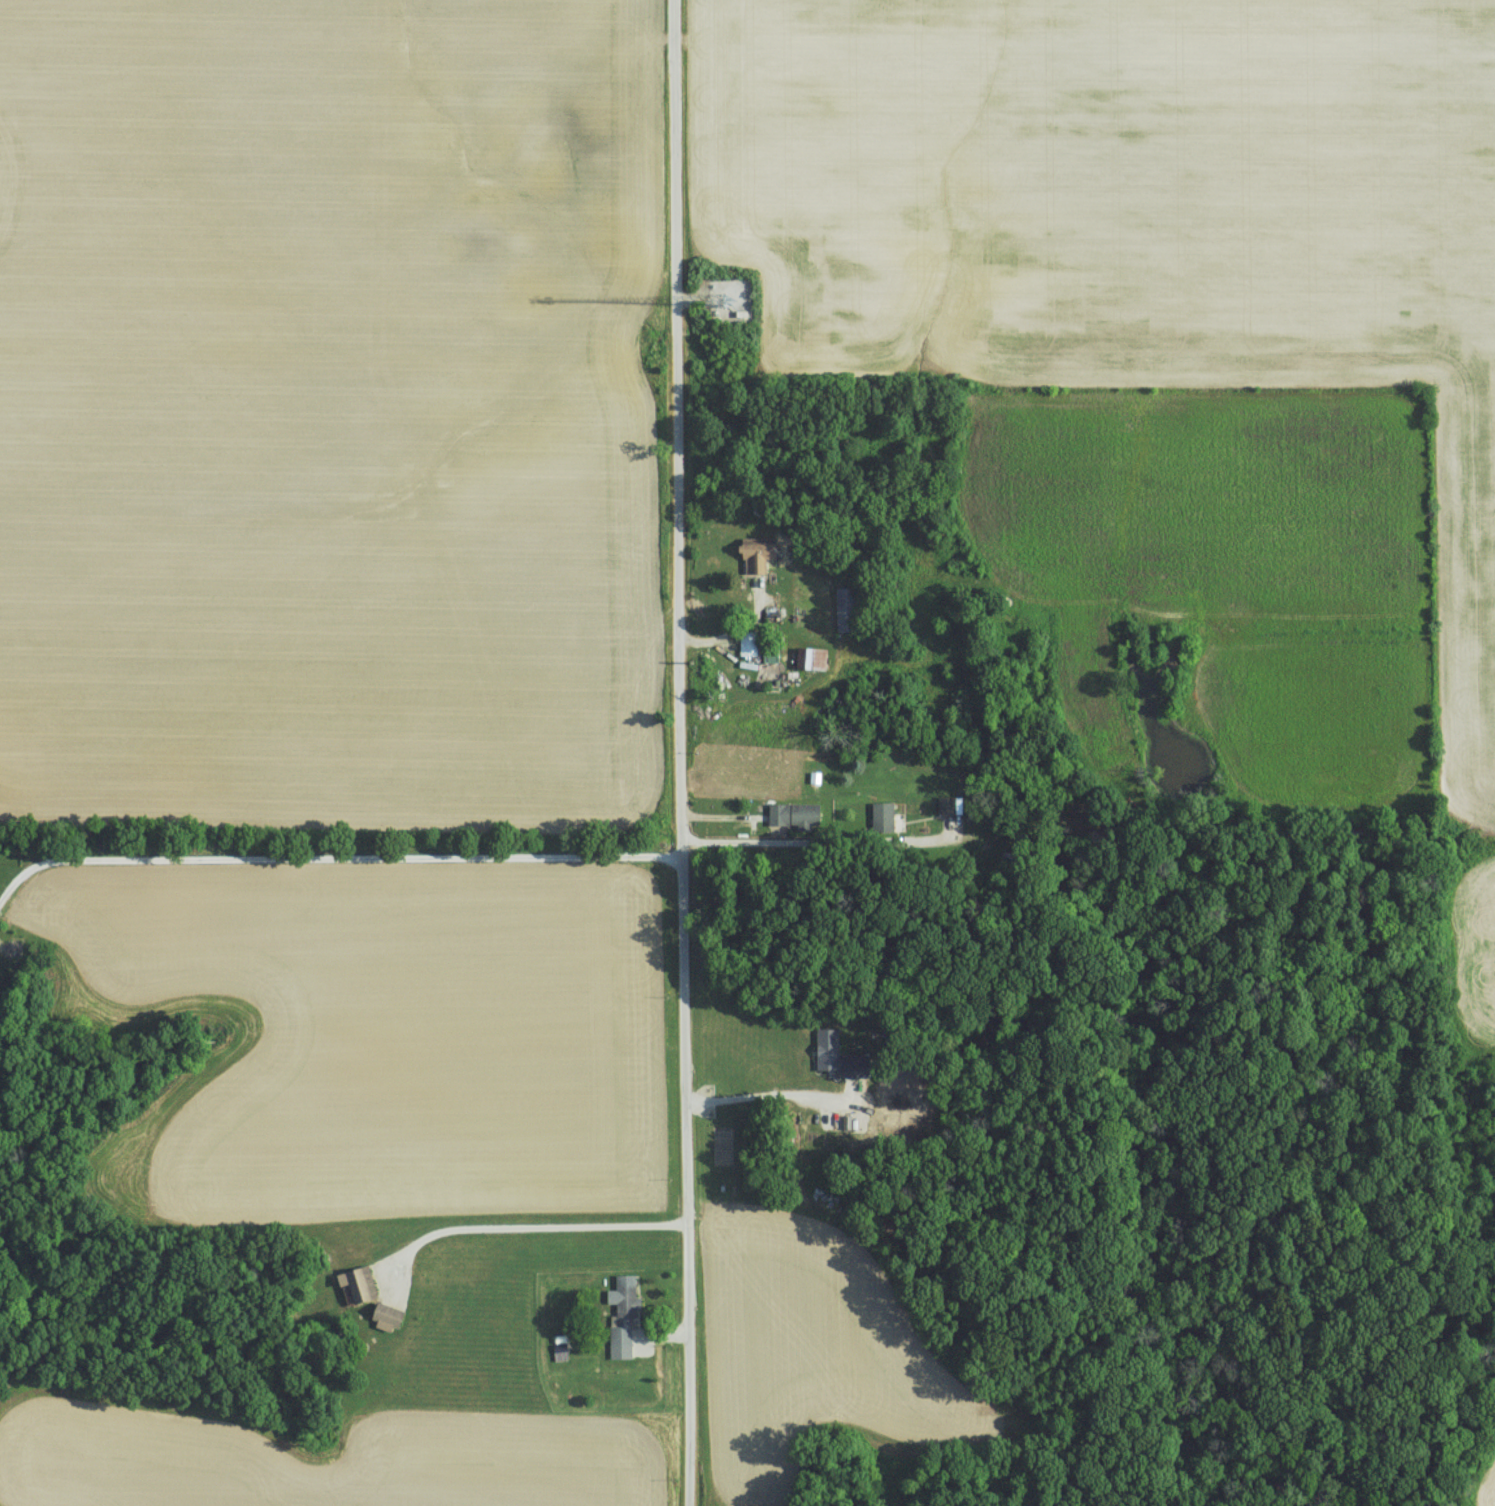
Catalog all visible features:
road: (843, 416)
building: (760, 553)
building: (848, 608)
building: (749, 644)
building: (813, 657)
road: (684, 752)
building: (948, 805)
building: (796, 814)
building: (884, 817)
road: (822, 843)
road: (332, 859)
building: (842, 1056)
road: (772, 1094)
road: (521, 1227)
building: (360, 1283)
building: (624, 1314)

